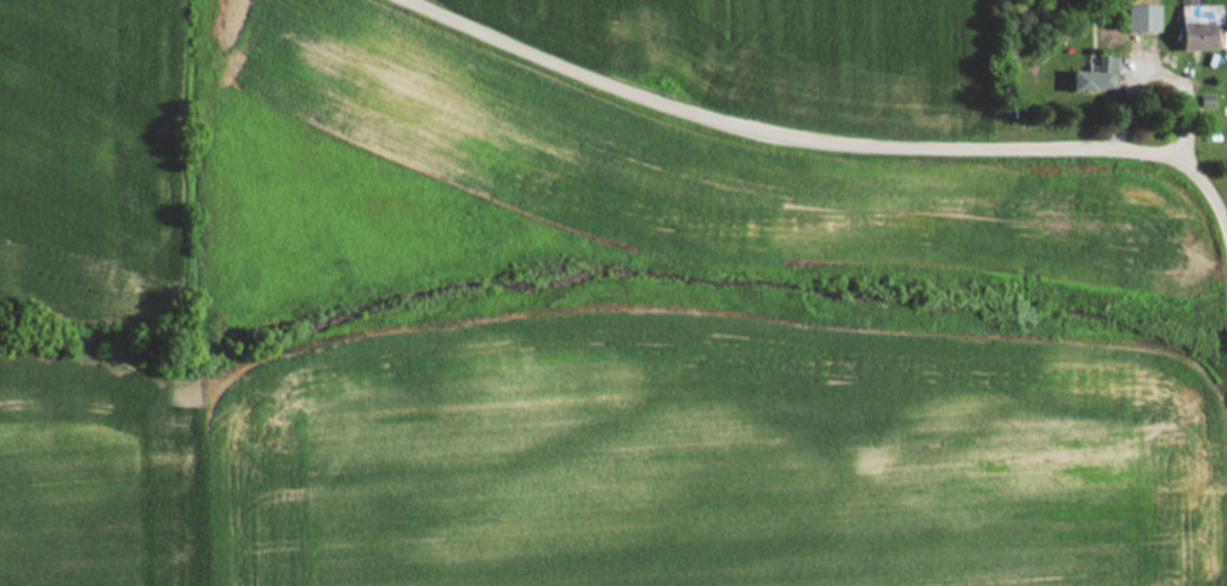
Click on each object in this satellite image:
building: (1137, 17)
building: (1193, 25)
building: (1089, 79)
road: (819, 141)

